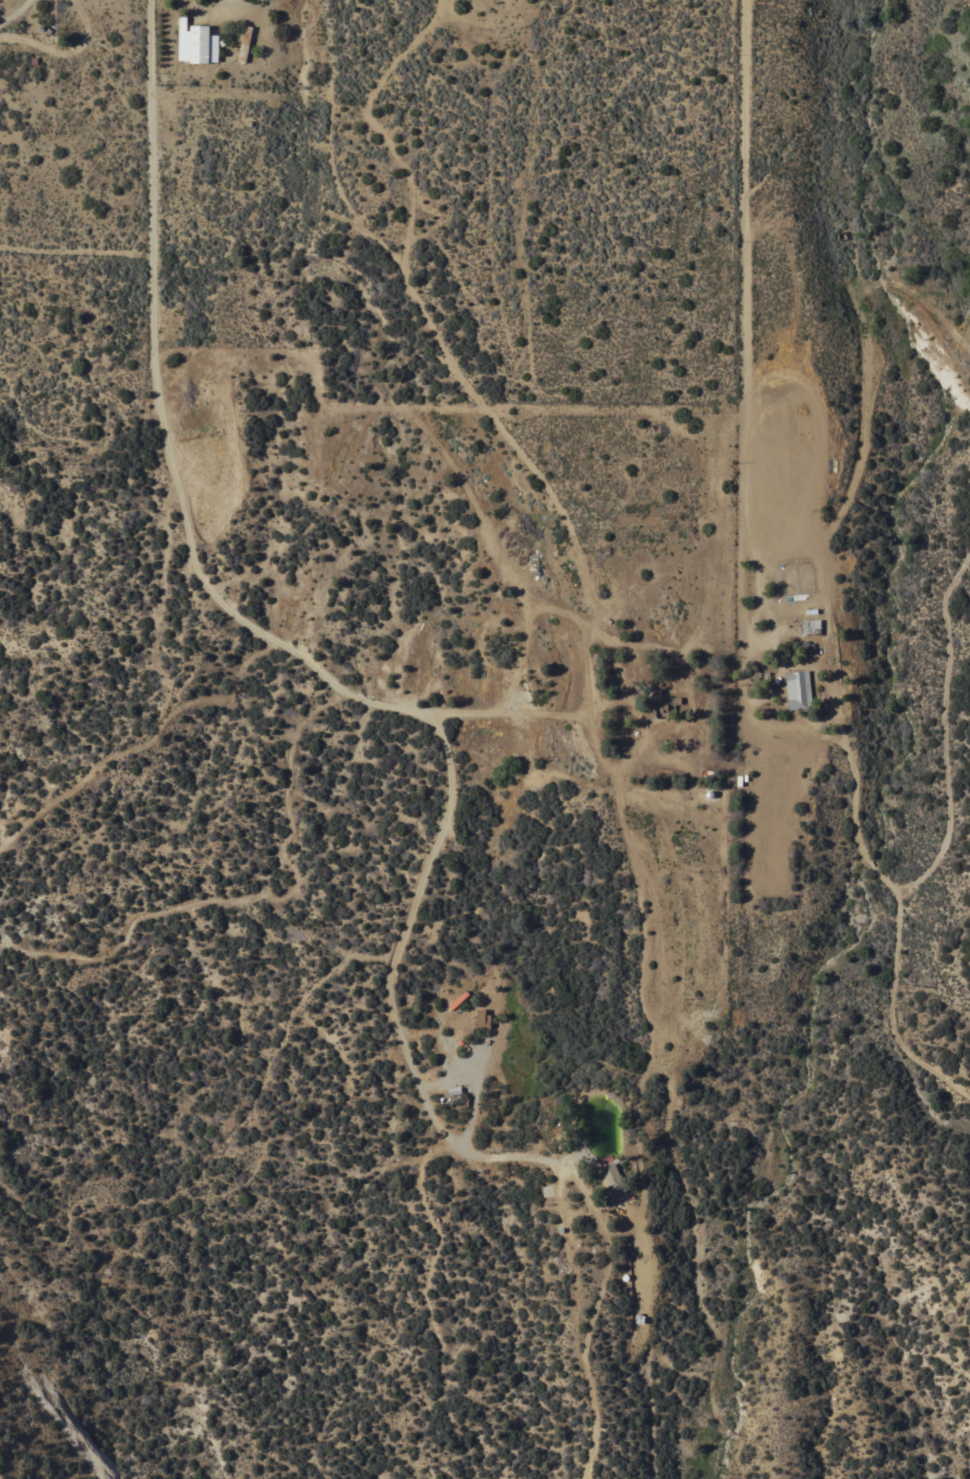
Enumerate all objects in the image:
road: (15, 15)
building: (199, 43)
building: (245, 43)
building: (214, 48)
road: (750, 275)
road: (870, 384)
road: (180, 510)
road: (573, 549)
building: (810, 626)
road: (766, 634)
building: (798, 689)
building: (660, 704)
road: (733, 737)
road: (924, 881)
road: (896, 1012)
building: (482, 1019)
road: (408, 1049)
road: (606, 1160)
building: (610, 1180)
road: (647, 1318)
road: (583, 1354)

